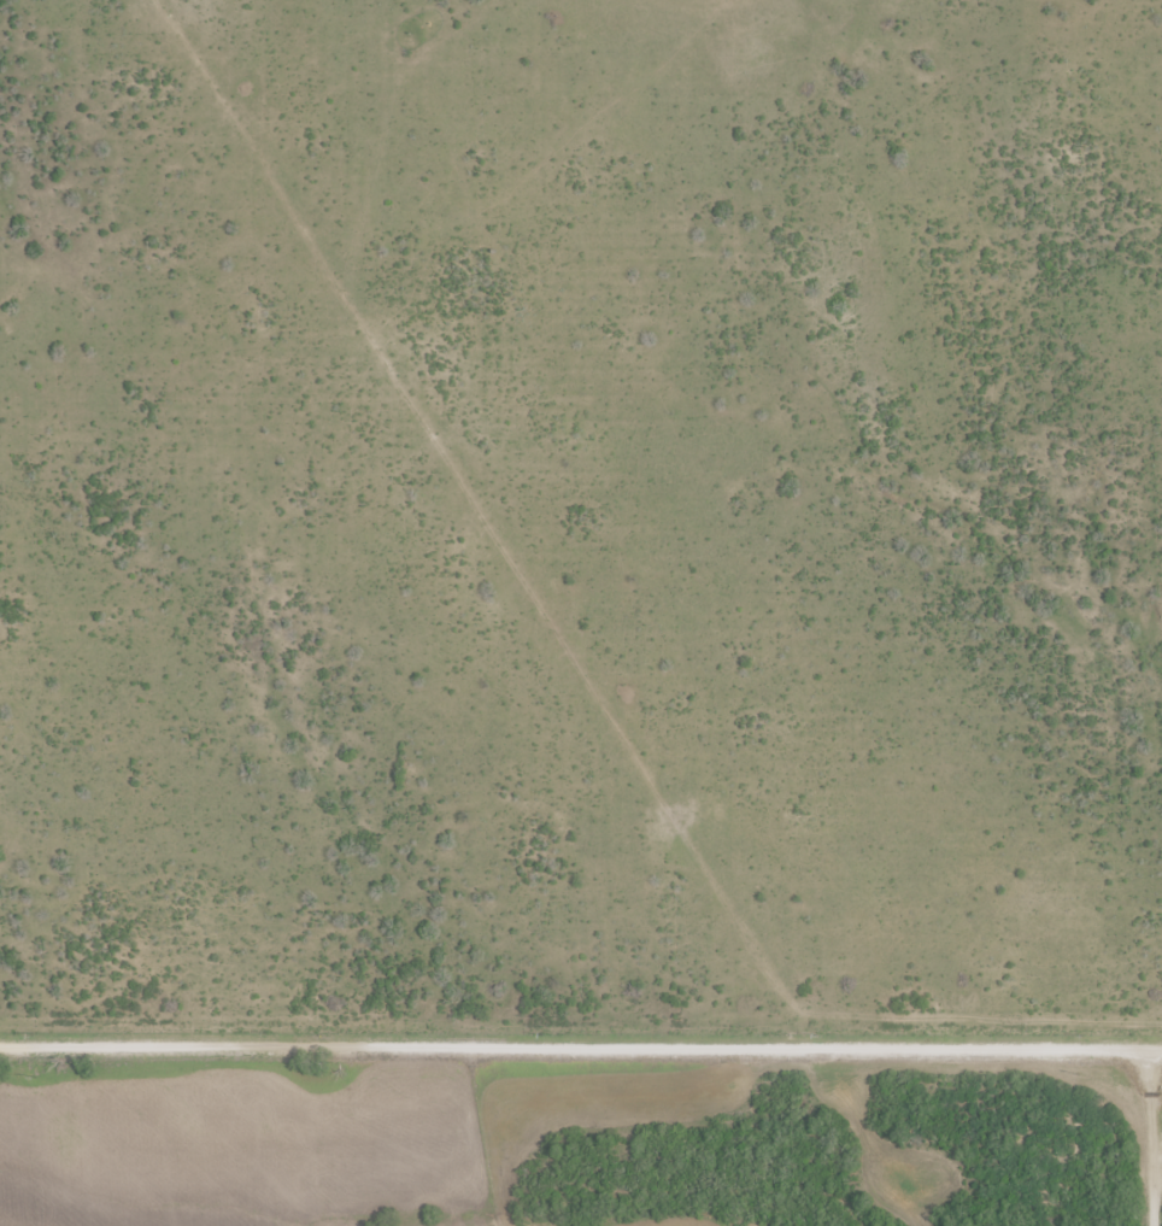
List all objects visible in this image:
road: (580, 1044)
road: (1152, 1136)

